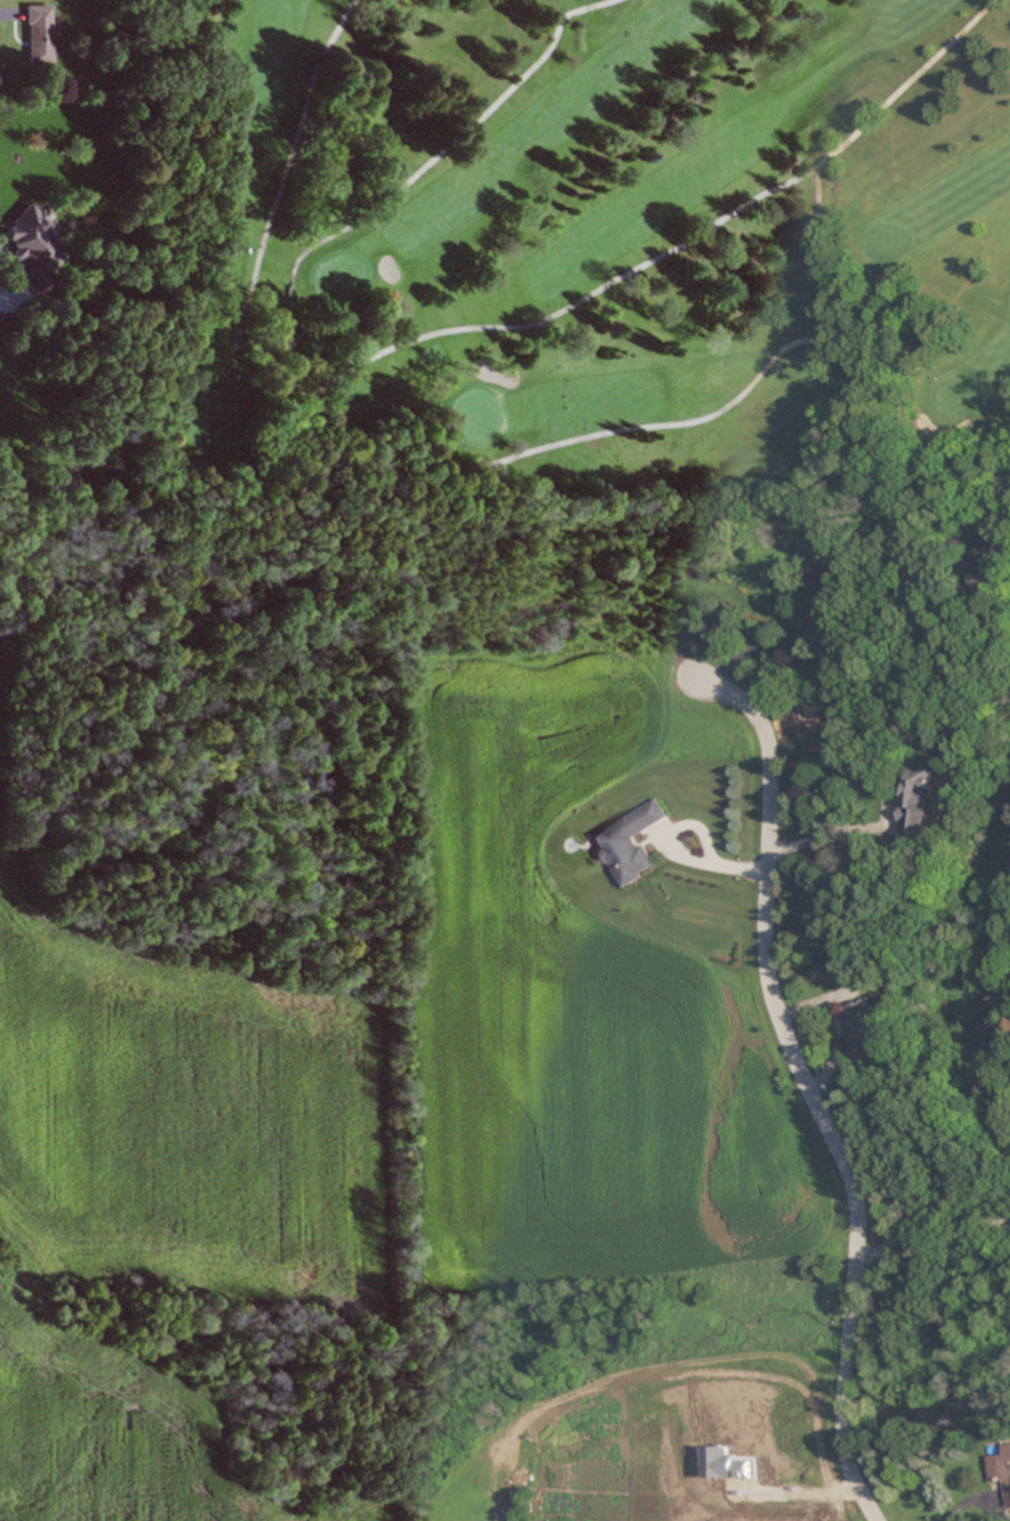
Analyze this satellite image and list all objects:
building: (39, 34)
road: (904, 83)
road: (754, 197)
building: (33, 246)
park: (572, 277)
road: (289, 299)
road: (405, 482)
road: (855, 554)
building: (993, 567)
building: (917, 801)
building: (627, 844)
building: (864, 1030)
road: (806, 1087)
building: (1000, 1473)
road: (967, 1501)

